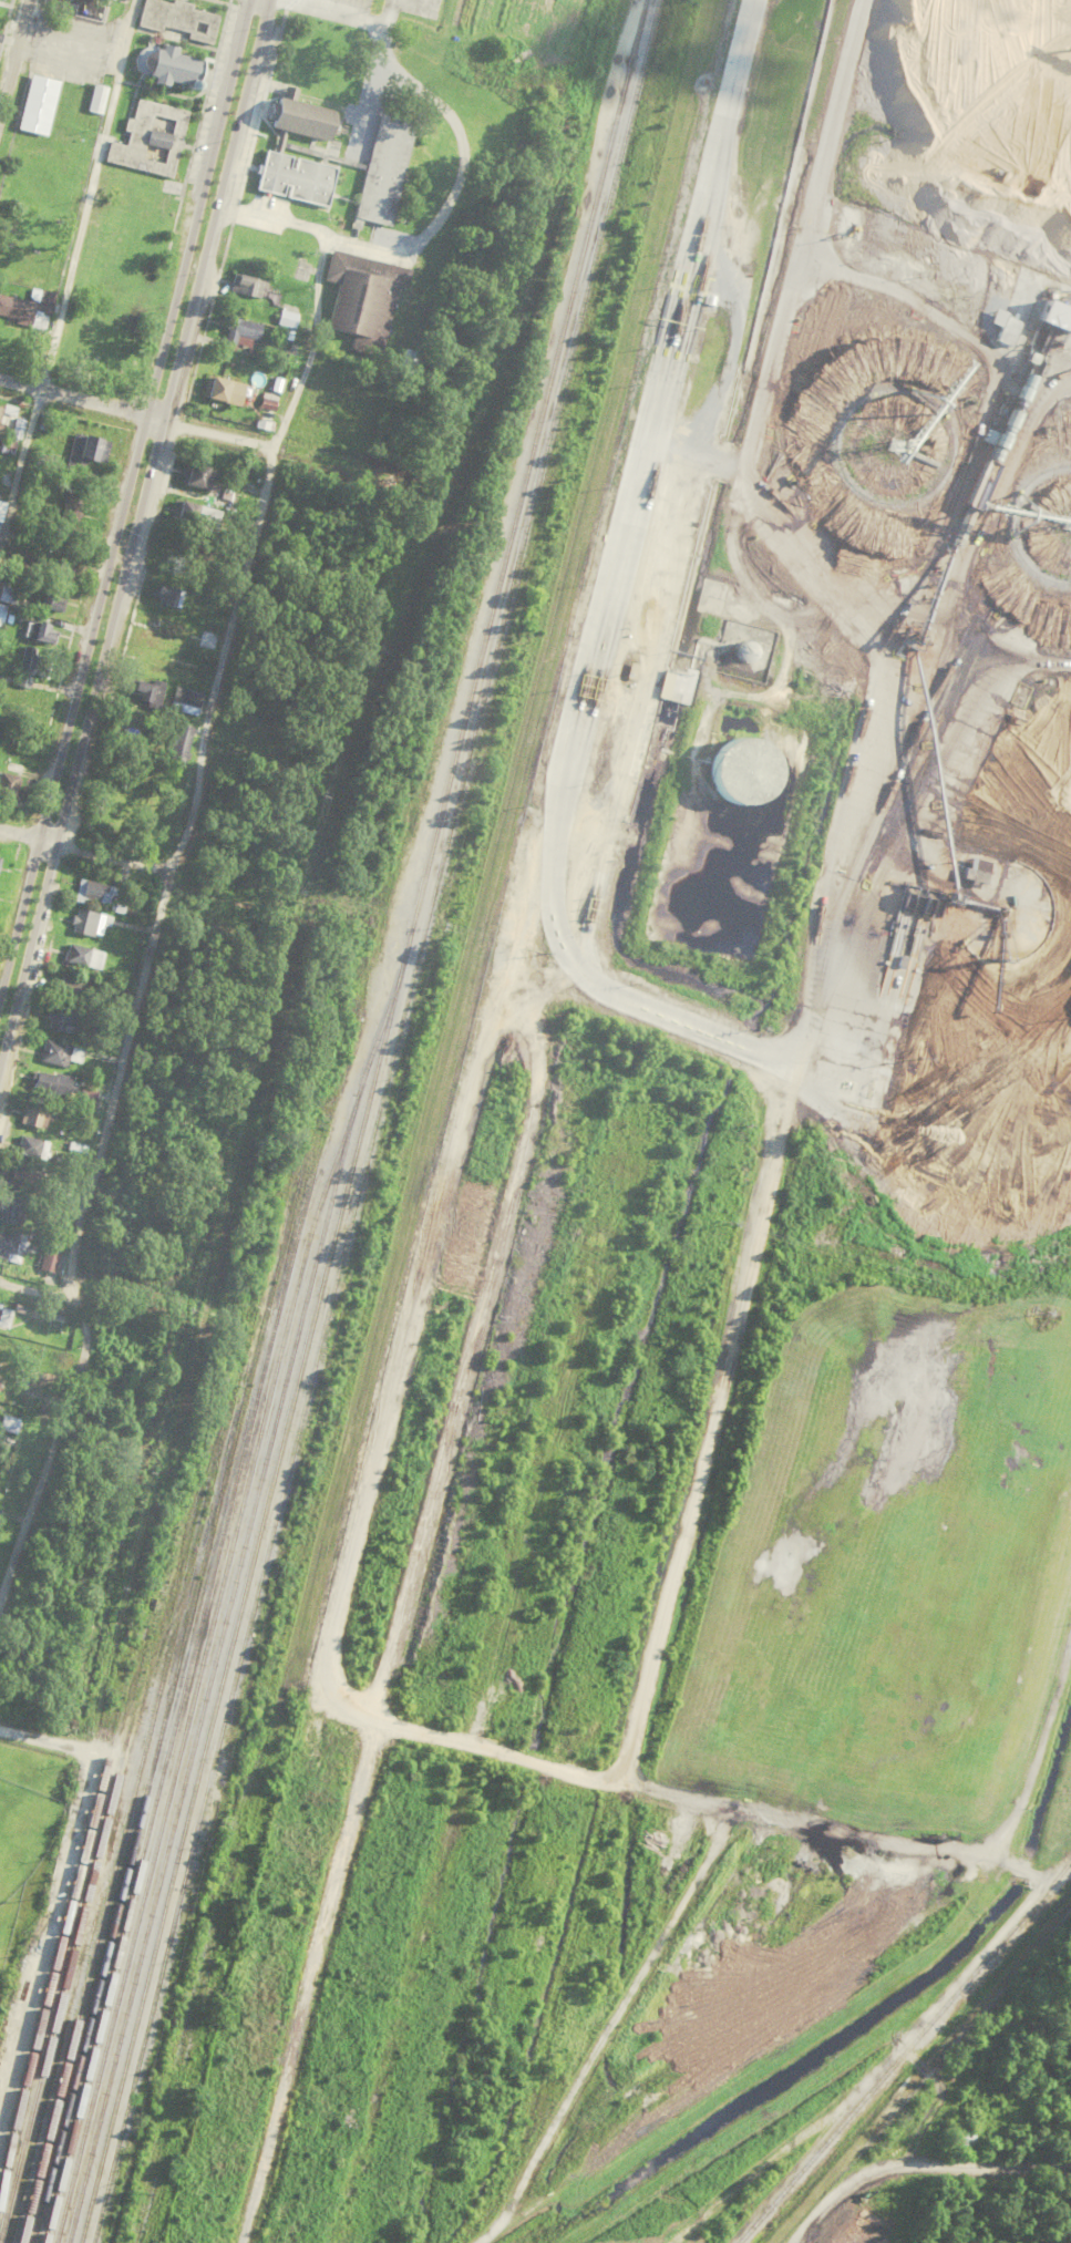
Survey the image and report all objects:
road: (13, 55)
park: (205, 76)
road: (265, 88)
building: (289, 92)
road: (289, 93)
road: (354, 109)
building: (301, 119)
road: (451, 119)
parking lot: (362, 127)
building: (279, 140)
building: (383, 166)
building: (296, 178)
road: (272, 220)
road: (69, 271)
building: (362, 296)
road: (135, 414)
road: (124, 495)
road: (133, 527)
road: (84, 851)
road: (157, 915)
railway: (363, 1121)
railway: (374, 1121)
road: (33, 1283)
railway: (216, 1597)
railway: (213, 1668)
railway: (168, 1696)
railway: (178, 1699)
railway: (155, 1705)
road: (43, 1742)
road: (1067, 1880)
railway: (56, 1947)
railway: (64, 1976)
railway: (931, 2018)
road: (792, 2048)
road: (987, 2163)
road: (836, 2190)
railway: (765, 2211)

